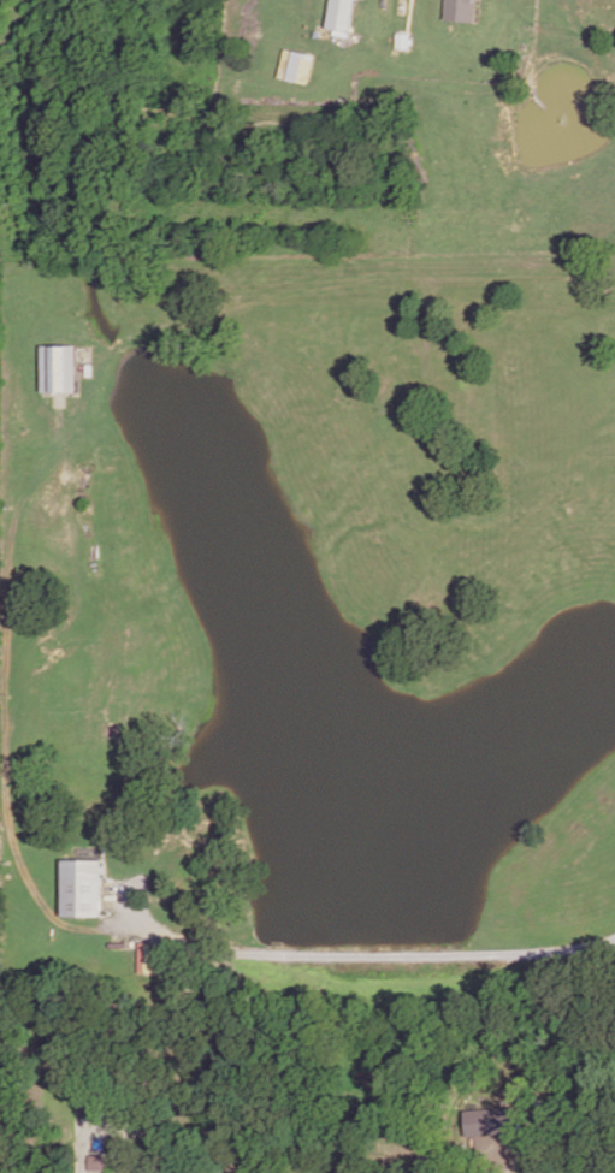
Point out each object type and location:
building: (461, 8)
building: (342, 14)
building: (292, 66)
building: (60, 372)
building: (83, 888)
road: (354, 956)
building: (489, 1120)
building: (456, 1154)
building: (97, 1172)

